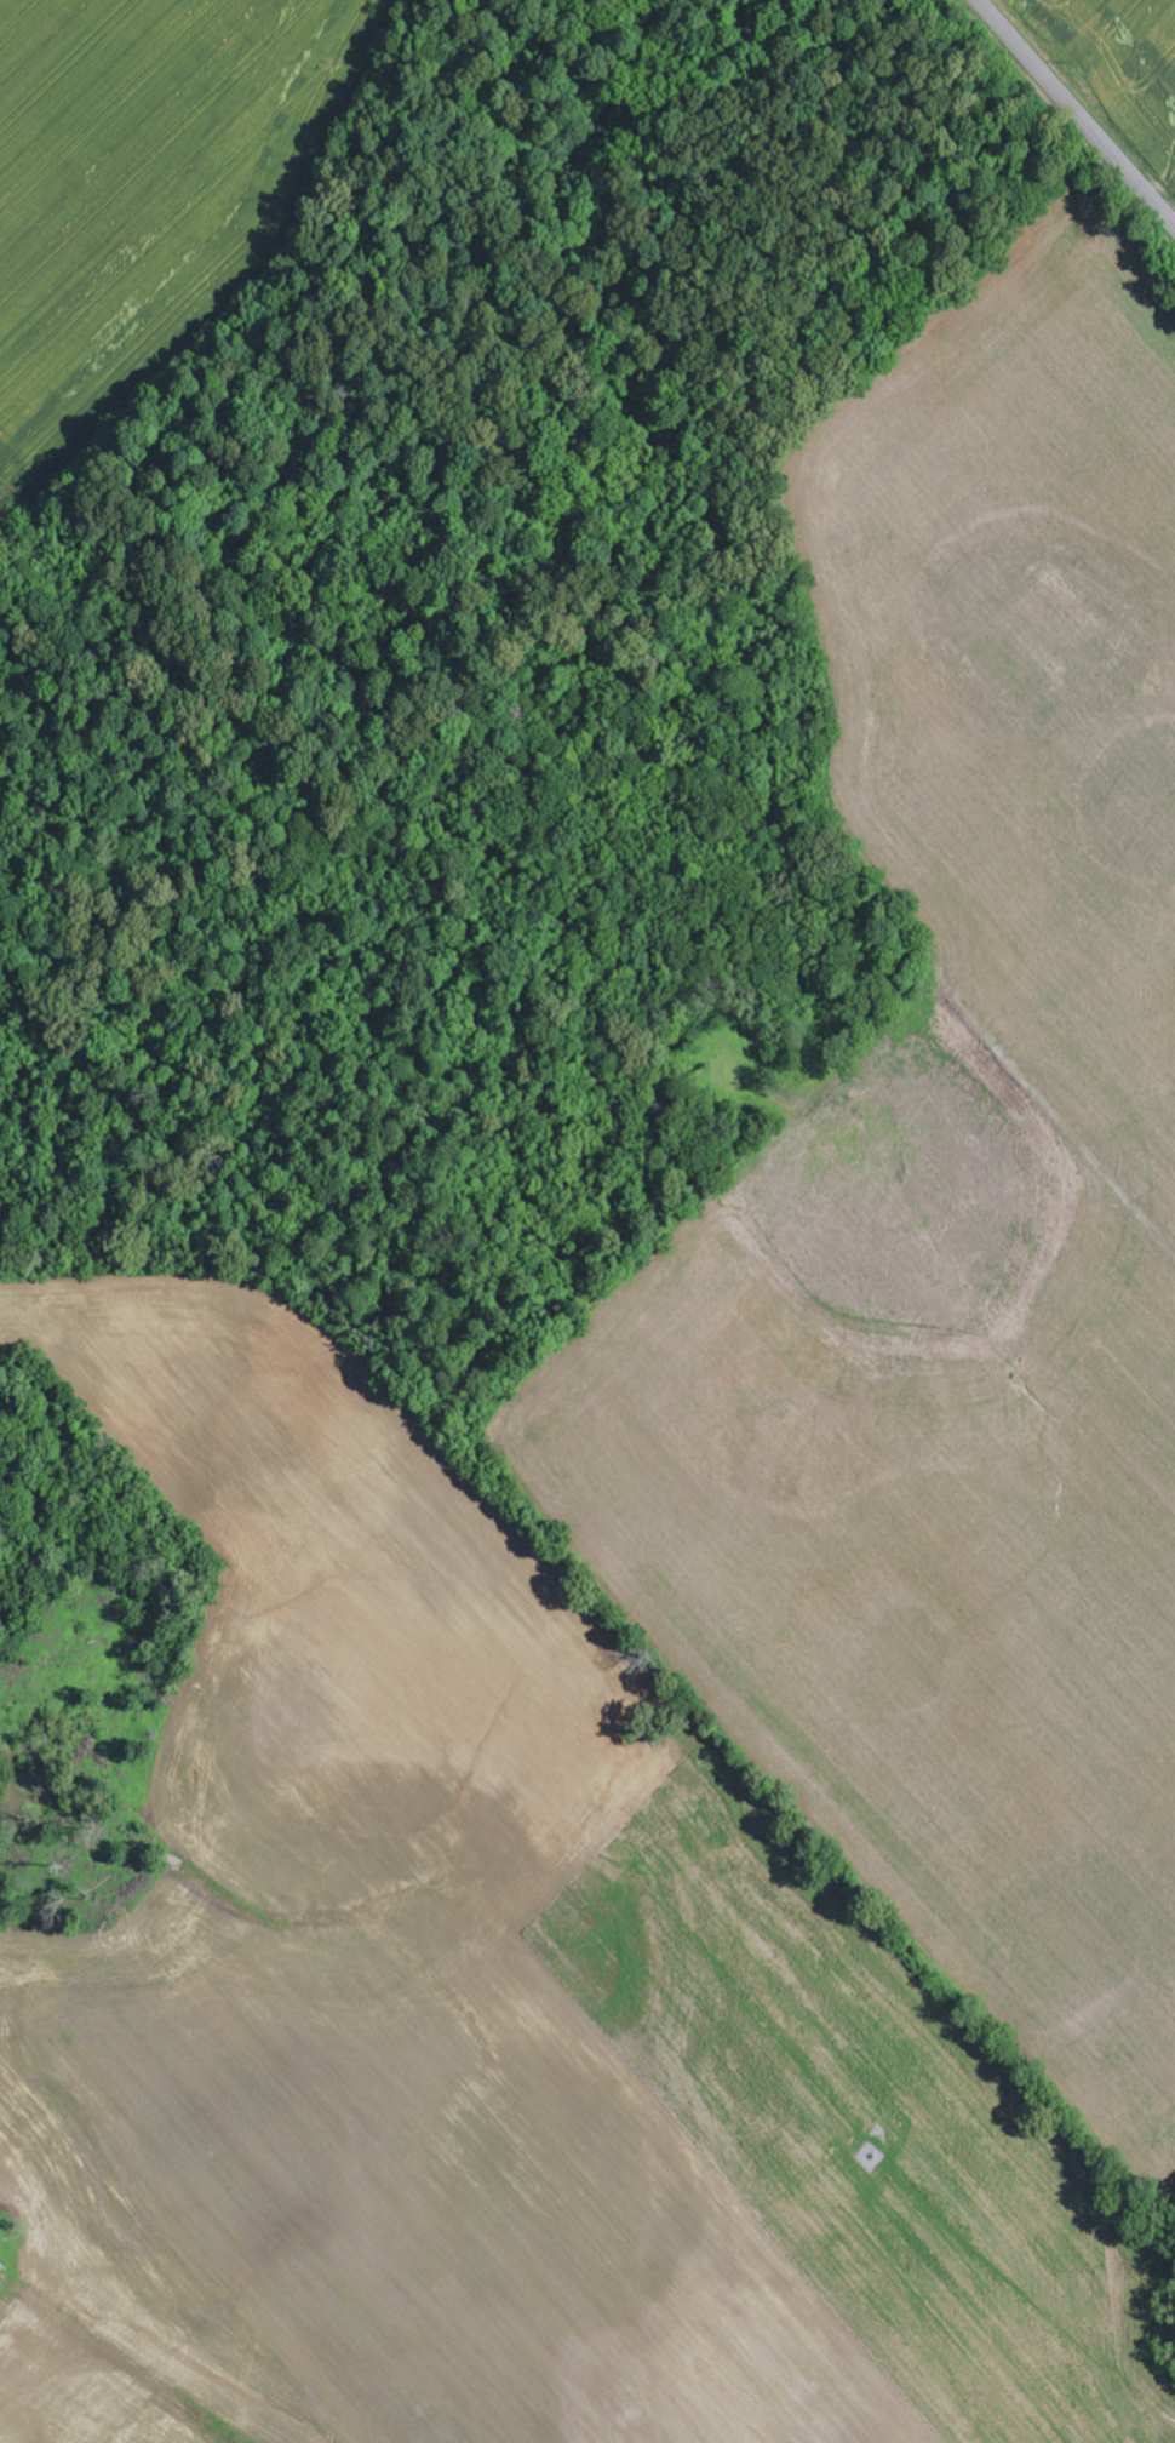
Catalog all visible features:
road: (1078, 110)

